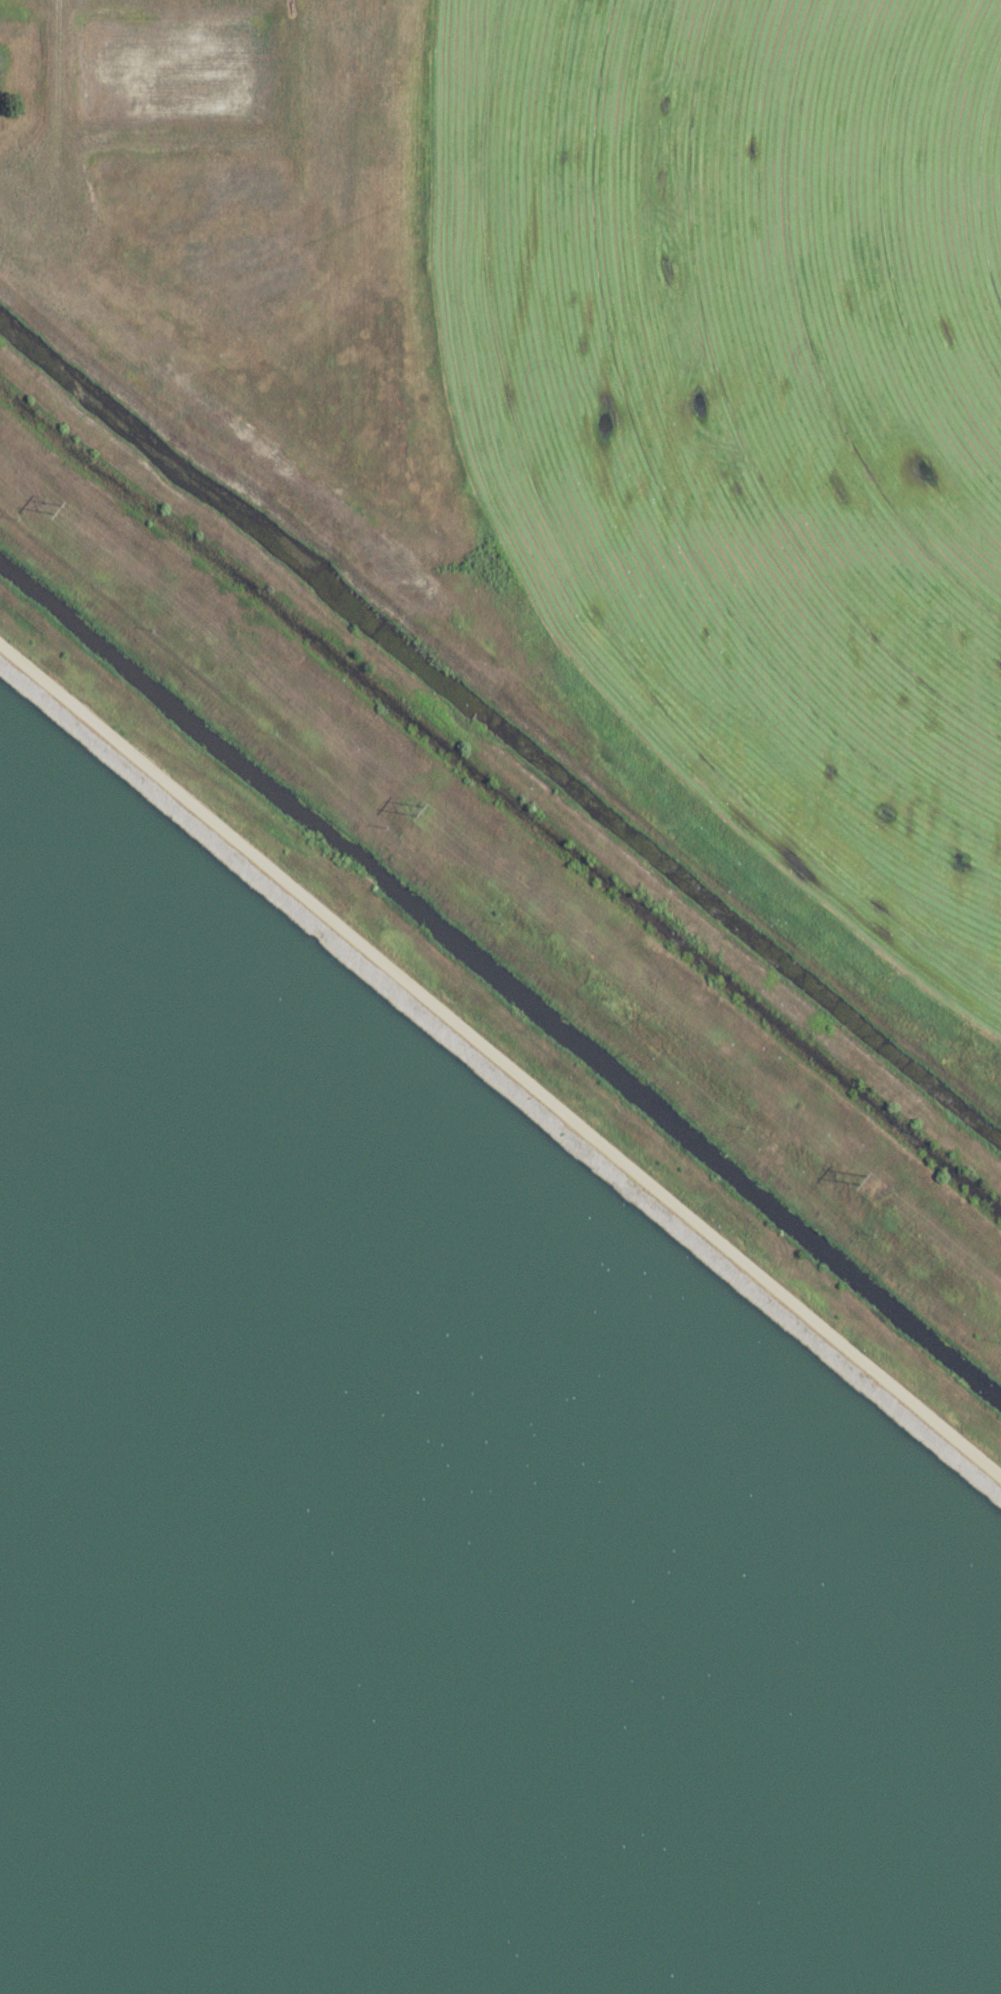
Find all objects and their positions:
power tower: (59, 505)
power tower: (420, 807)
wastewater plant: (500, 997)
road: (501, 1058)
power tower: (864, 1175)

